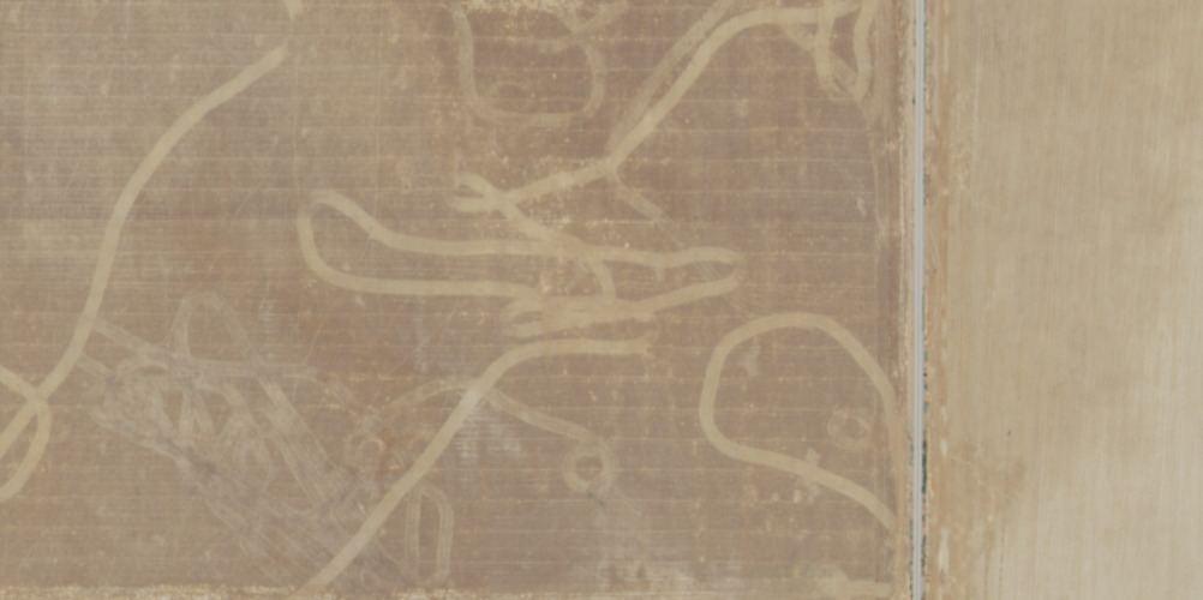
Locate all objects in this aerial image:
road: (909, 300)

